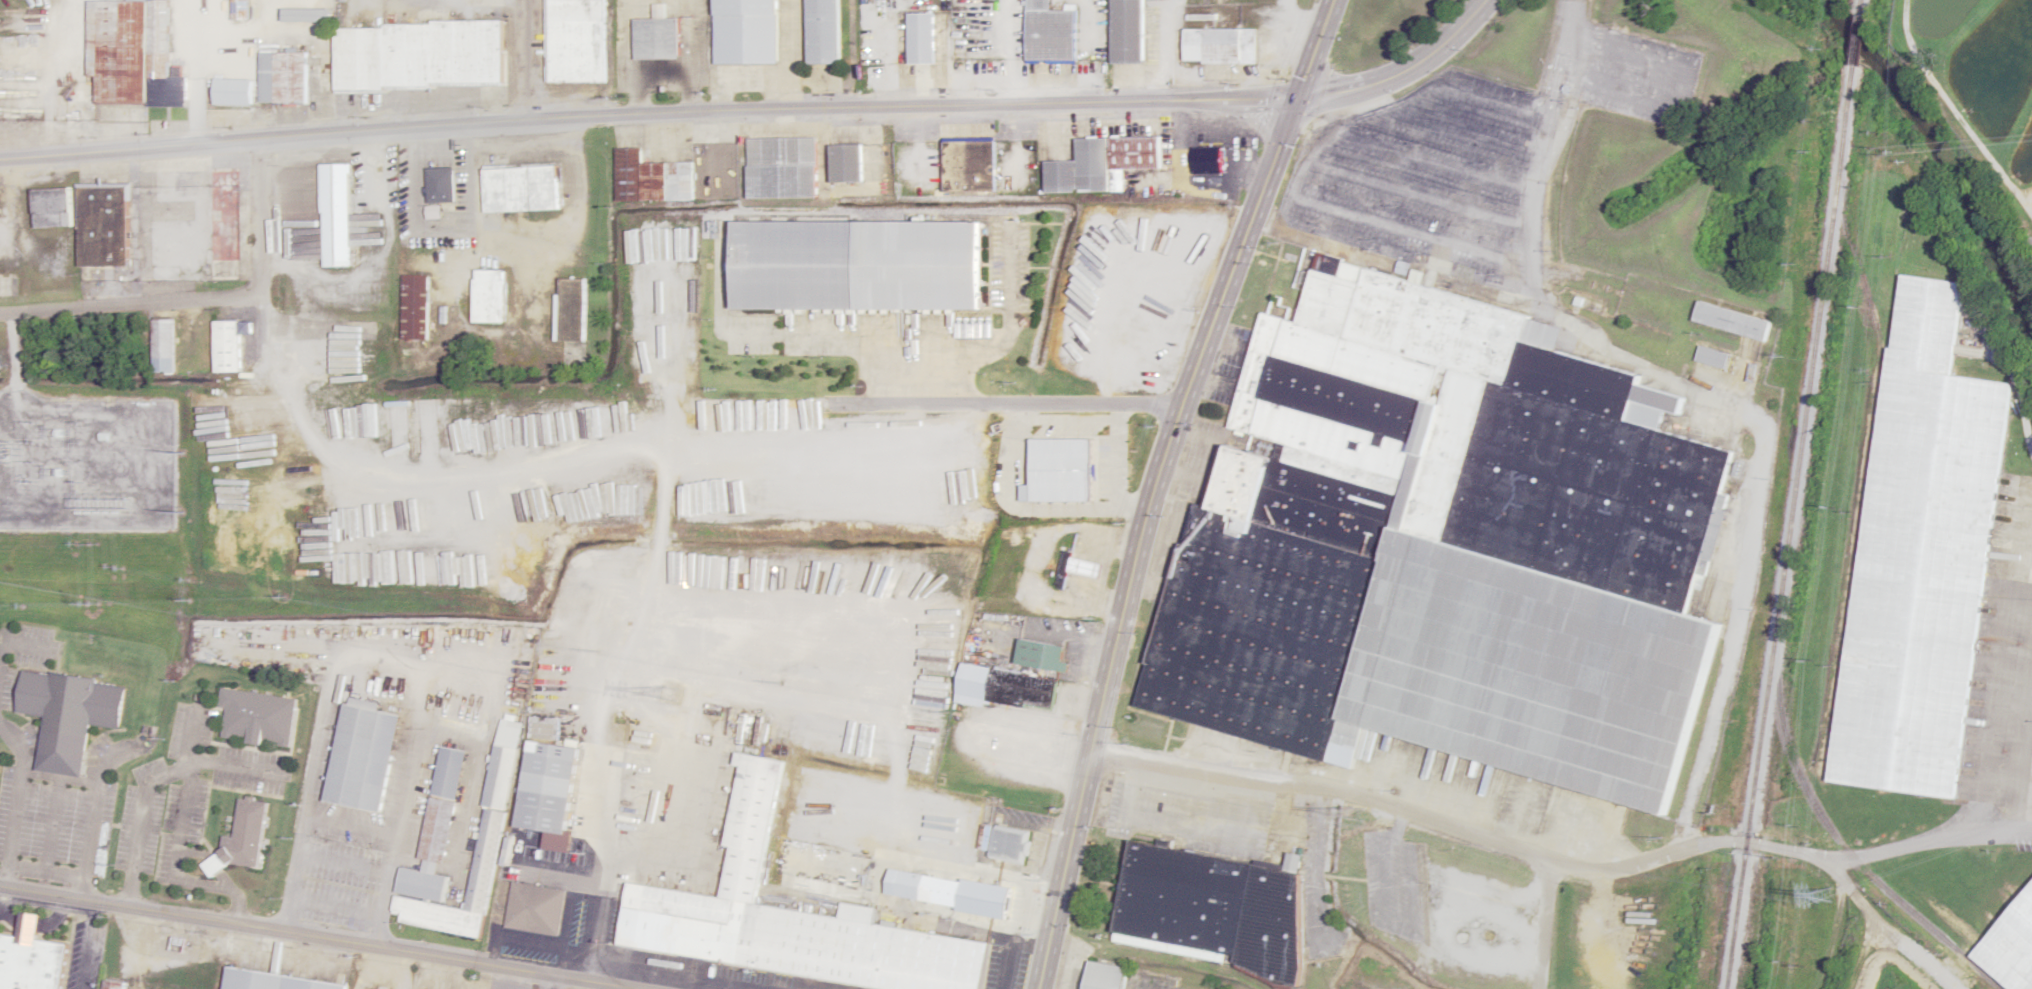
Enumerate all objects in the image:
railway: (1859, 1)
building: (238, 9)
building: (308, 16)
road: (1296, 23)
railway: (1855, 28)
building: (746, 31)
building: (824, 31)
building: (1127, 31)
building: (1050, 33)
building: (657, 38)
building: (920, 38)
building: (576, 40)
building: (1220, 45)
road: (1168, 49)
building: (133, 55)
building: (418, 55)
road: (527, 59)
road: (1400, 69)
building: (283, 78)
building: (232, 92)
traffic signals: (1296, 100)
road: (647, 113)
aquafarm: (1976, 120)
river: (1943, 150)
building: (1208, 160)
building: (846, 163)
building: (1102, 164)
building: (967, 167)
building: (782, 168)
building: (440, 185)
building: (51, 208)
building: (335, 215)
building: (103, 225)
building: (929, 257)
building: (489, 297)
road: (205, 300)
building: (569, 301)
building: (414, 307)
building: (1732, 322)
building: (1102, 341)
building: (163, 346)
building: (227, 356)
building: (1712, 357)
power substation: (89, 467)
road: (1154, 485)
railway: (1790, 521)
building: (1449, 545)
building: (1922, 553)
road: (23, 641)
building: (1040, 654)
power tower: (665, 692)
building: (263, 717)
building: (75, 718)
road: (193, 735)
road: (2019, 735)
building: (362, 755)
road: (59, 779)
road: (155, 779)
building: (546, 792)
building: (495, 795)
road: (15, 800)
building: (442, 803)
road: (94, 810)
power tower: (1359, 814)
road: (52, 824)
road: (1930, 834)
building: (248, 839)
road: (198, 853)
road: (1555, 853)
building: (836, 866)
road: (25, 867)
road: (217, 867)
road: (178, 868)
road: (64, 873)
road: (228, 880)
power tower: (1828, 889)
building: (936, 890)
building: (535, 908)
building: (1212, 908)
building: (787, 918)
road: (28, 922)
road: (324, 937)
road: (89, 945)
building: (2010, 948)
building: (34, 958)
building: (1125, 978)
building: (271, 981)
road: (551, 982)
building: (112, 984)

